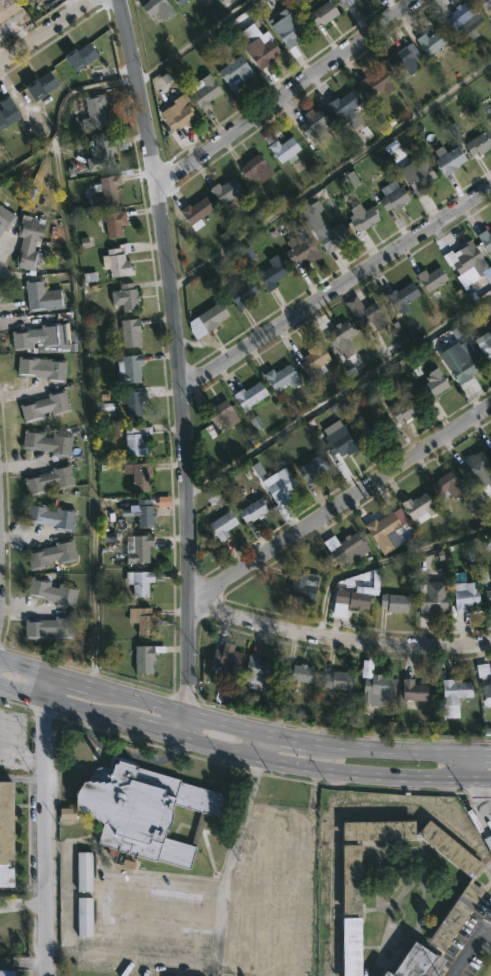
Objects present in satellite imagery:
building: (29, 1)
building: (176, 2)
building: (343, 2)
building: (483, 3)
building: (8, 8)
building: (153, 8)
building: (321, 13)
building: (461, 17)
building: (287, 29)
road: (45, 30)
road: (192, 40)
building: (427, 41)
building: (256, 45)
building: (78, 56)
building: (401, 58)
building: (231, 72)
building: (372, 84)
building: (43, 85)
building: (201, 91)
road: (287, 93)
building: (341, 105)
building: (94, 111)
building: (8, 113)
building: (174, 115)
building: (490, 119)
building: (489, 123)
building: (310, 124)
building: (478, 143)
building: (280, 149)
building: (103, 155)
building: (447, 160)
building: (253, 169)
road: (330, 175)
building: (414, 175)
building: (104, 191)
building: (225, 194)
building: (390, 196)
building: (310, 209)
building: (193, 212)
building: (360, 217)
building: (6, 220)
building: (116, 224)
building: (328, 237)
building: (484, 239)
building: (84, 242)
building: (29, 243)
road: (3, 249)
building: (298, 251)
building: (246, 255)
building: (465, 258)
building: (116, 260)
building: (268, 272)
building: (428, 278)
road: (335, 289)
building: (239, 294)
building: (41, 296)
building: (124, 297)
building: (399, 297)
road: (170, 298)
building: (363, 312)
building: (205, 319)
building: (127, 332)
building: (337, 335)
building: (34, 336)
building: (483, 343)
road: (82, 353)
building: (311, 360)
building: (458, 365)
building: (127, 367)
building: (40, 369)
building: (278, 378)
building: (429, 386)
road: (338, 393)
building: (246, 395)
building: (131, 402)
building: (44, 406)
building: (401, 410)
building: (219, 414)
building: (255, 423)
building: (368, 428)
building: (136, 441)
building: (46, 442)
building: (338, 442)
building: (490, 442)
building: (489, 451)
building: (471, 464)
building: (309, 469)
building: (135, 476)
building: (48, 480)
building: (277, 486)
building: (444, 486)
building: (211, 495)
building: (235, 495)
building: (163, 501)
road: (341, 505)
building: (416, 509)
building: (251, 510)
building: (141, 514)
building: (49, 517)
building: (220, 525)
building: (380, 526)
building: (108, 537)
building: (346, 549)
building: (137, 551)
building: (51, 554)
building: (136, 582)
building: (301, 586)
building: (51, 593)
building: (463, 597)
building: (487, 597)
building: (351, 598)
building: (429, 598)
building: (391, 603)
building: (139, 620)
building: (48, 628)
road: (337, 640)
building: (142, 658)
building: (224, 658)
road: (23, 669)
road: (187, 669)
building: (257, 670)
building: (490, 672)
building: (296, 674)
building: (484, 678)
building: (335, 681)
road: (69, 682)
building: (375, 690)
building: (455, 690)
building: (410, 691)
road: (93, 711)
road: (170, 711)
road: (278, 740)
road: (249, 746)
road: (390, 750)
road: (483, 750)
road: (474, 764)
road: (336, 774)
road: (22, 776)
road: (482, 796)
road: (489, 805)
building: (145, 810)
building: (67, 814)
road: (330, 814)
road: (46, 825)
building: (373, 829)
building: (6, 835)
building: (487, 843)
building: (84, 870)
building: (346, 878)
building: (466, 885)
road: (24, 888)
building: (84, 916)
building: (346, 945)
road: (468, 947)
building: (410, 962)
road: (24, 963)
building: (7, 972)
building: (164, 975)

